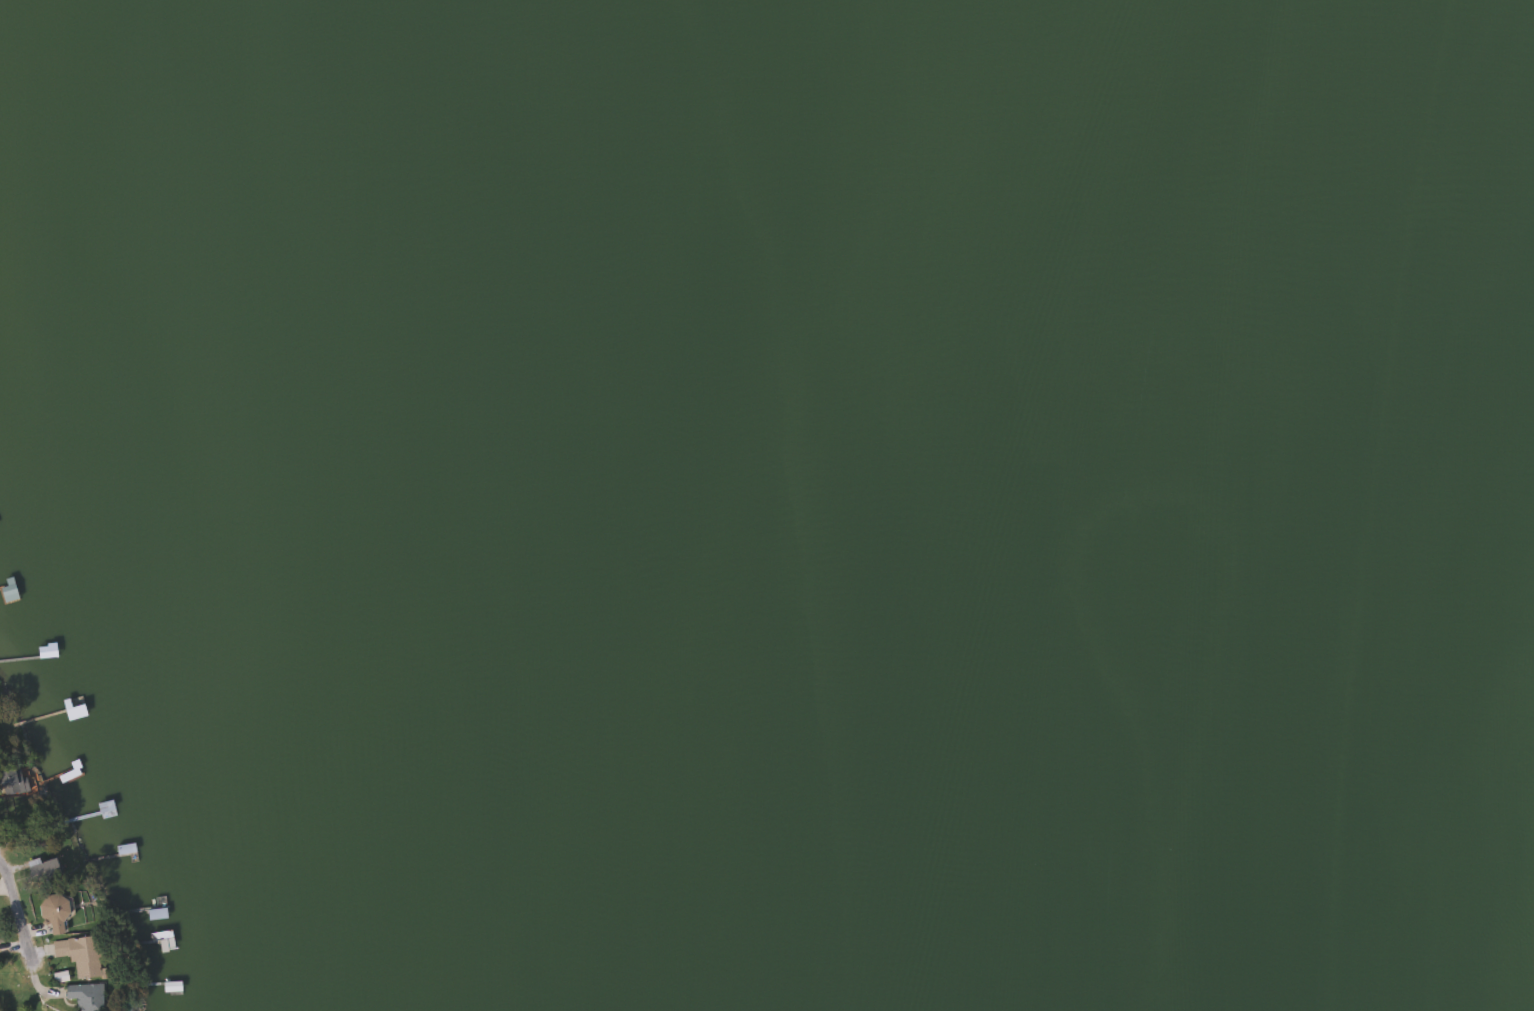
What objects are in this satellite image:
river: (1111, 499)
building: (72, 708)
building: (42, 870)
road: (17, 911)
building: (54, 913)
building: (160, 935)
building: (78, 955)
building: (84, 996)

